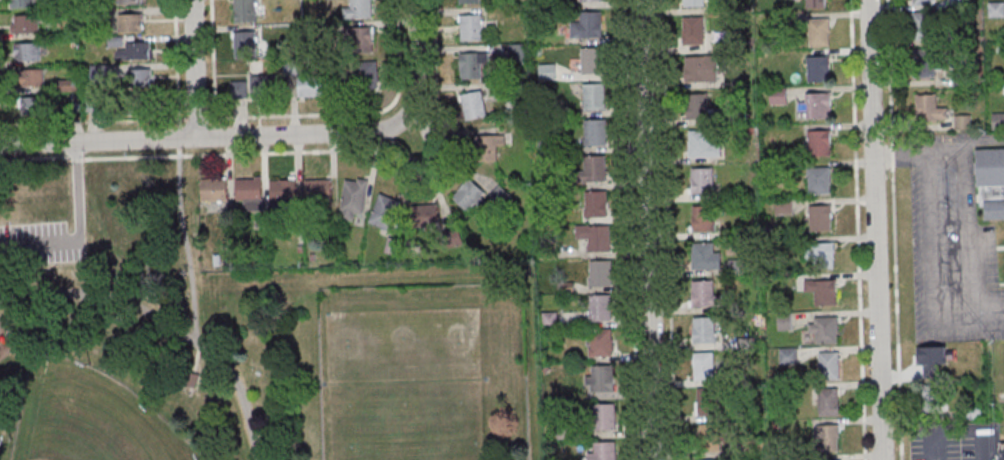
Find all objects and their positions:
building: (591, 0)
building: (132, 1)
building: (469, 1)
building: (693, 2)
building: (922, 2)
building: (23, 3)
building: (815, 3)
building: (360, 8)
building: (245, 10)
building: (131, 22)
building: (26, 23)
building: (587, 25)
building: (922, 26)
building: (471, 27)
building: (693, 30)
building: (819, 31)
building: (358, 39)
building: (245, 40)
building: (27, 51)
building: (135, 51)
road: (415, 53)
road: (214, 58)
road: (173, 59)
building: (591, 60)
building: (927, 63)
building: (472, 65)
building: (701, 68)
building: (818, 68)
road: (195, 69)
building: (364, 71)
building: (547, 71)
building: (31, 78)
building: (137, 78)
building: (65, 86)
building: (263, 86)
building: (310, 87)
building: (594, 96)
building: (473, 105)
building: (818, 105)
building: (32, 106)
building: (697, 106)
building: (929, 109)
road: (353, 113)
road: (198, 118)
building: (998, 119)
road: (94, 121)
building: (963, 122)
building: (595, 132)
road: (209, 137)
road: (978, 138)
building: (820, 142)
building: (702, 144)
building: (477, 147)
road: (358, 151)
road: (424, 156)
road: (75, 158)
road: (34, 159)
building: (595, 167)
building: (702, 180)
building: (819, 180)
building: (990, 180)
building: (215, 188)
building: (318, 190)
building: (249, 192)
building: (283, 193)
building: (354, 197)
building: (469, 197)
building: (595, 203)
road: (965, 204)
building: (783, 207)
building: (384, 211)
building: (821, 217)
building: (425, 218)
building: (703, 218)
road: (894, 229)
road: (79, 230)
road: (630, 230)
road: (648, 230)
road: (667, 230)
road: (858, 230)
road: (876, 230)
building: (594, 238)
road: (186, 242)
parking lot: (39, 245)
road: (929, 251)
building: (820, 255)
building: (705, 256)
building: (600, 274)
building: (823, 291)
building: (706, 294)
building: (599, 309)
building: (549, 320)
road: (167, 323)
building: (823, 329)
building: (704, 330)
park: (241, 338)
building: (600, 343)
road: (197, 357)
building: (829, 366)
building: (703, 367)
building: (194, 377)
building: (600, 379)
building: (708, 402)
building: (828, 402)
building: (604, 416)
park: (90, 418)
road: (960, 432)
building: (709, 438)
building: (828, 438)
building: (603, 451)
building: (1001, 455)
building: (709, 459)

